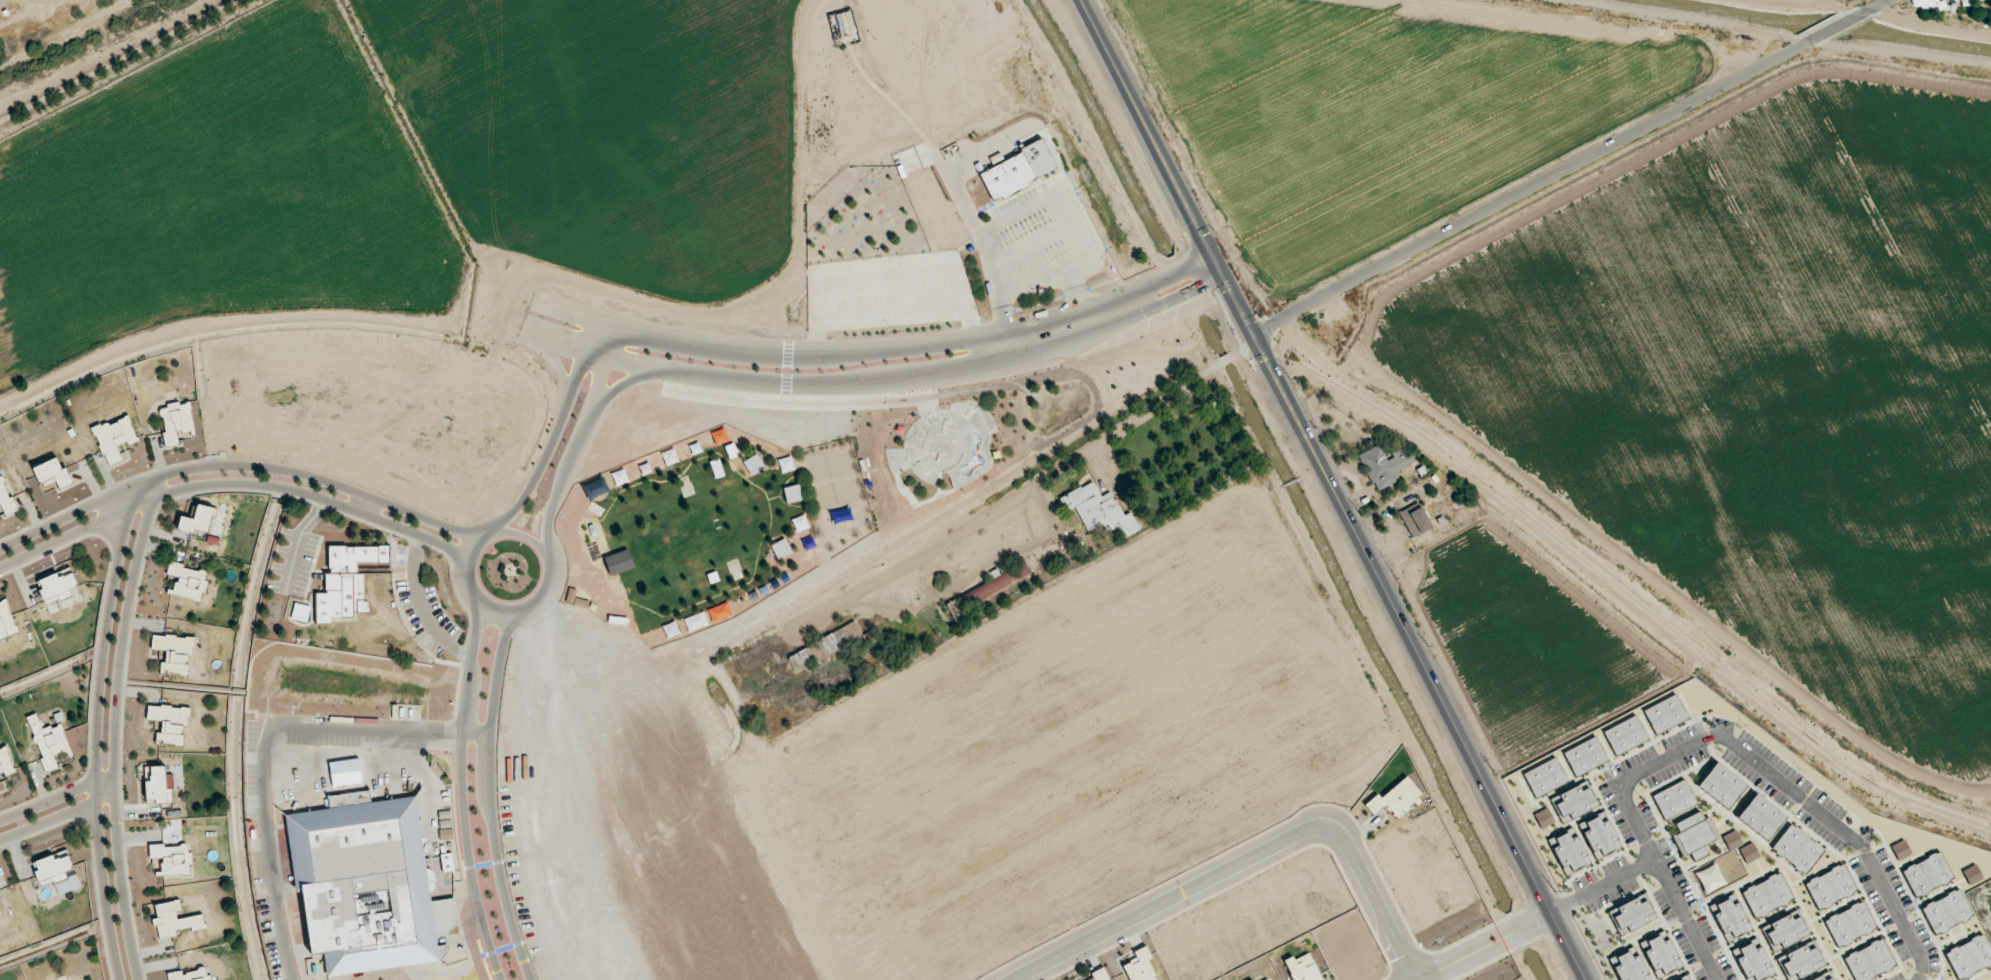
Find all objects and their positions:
building: (1955, 0)
building: (1965, 3)
building: (1930, 5)
road: (1877, 8)
road: (1831, 32)
building: (1016, 171)
road: (1526, 191)
road: (1025, 206)
traffic signals: (1211, 253)
traffic signals: (1222, 274)
road: (1036, 282)
traffic signals: (1254, 336)
road: (1244, 348)
road: (815, 356)
road: (1222, 363)
road: (842, 383)
road: (1149, 411)
building: (176, 422)
building: (114, 439)
road: (239, 463)
building: (1384, 466)
building: (52, 473)
road: (232, 482)
road: (1333, 490)
building: (5, 499)
building: (1099, 511)
building: (1415, 520)
building: (197, 521)
building: (800, 523)
road: (485, 528)
building: (618, 563)
building: (346, 581)
building: (187, 582)
building: (57, 584)
building: (996, 585)
building: (575, 599)
building: (6, 622)
building: (824, 646)
building: (173, 653)
building: (1665, 714)
road: (96, 724)
building: (168, 724)
road: (115, 728)
building: (1625, 735)
road: (1728, 740)
building: (48, 743)
road: (265, 750)
building: (1585, 756)
building: (5, 763)
building: (1545, 777)
building: (1721, 785)
building: (156, 786)
road: (461, 792)
road: (489, 796)
road: (57, 797)
building: (1396, 798)
building: (1674, 800)
building: (1573, 803)
road: (57, 816)
building: (1761, 816)
building: (1544, 818)
building: (1695, 835)
building: (1600, 838)
building: (1732, 840)
building: (1797, 848)
building: (1901, 850)
building: (1570, 853)
building: (1749, 853)
building: (171, 859)
road: (1243, 861)
building: (53, 867)
building: (1927, 874)
building: (1972, 875)
building: (1710, 878)
building: (366, 883)
building: (1830, 886)
building: (1767, 895)
building: (1947, 911)
building: (1631, 916)
building: (0, 917)
building: (1730, 918)
road: (1685, 920)
building: (174, 921)
building: (1850, 924)
building: (1785, 932)
road: (1480, 945)
building: (1660, 956)
building: (1970, 956)
building: (1870, 961)
building: (1753, 962)
building: (1800, 962)
building: (1140, 966)
building: (1629, 967)
building: (1302, 968)
building: (189, 975)
building: (1099, 975)
building: (1818, 978)
building: (1267, 979)
building: (1680, 979)
building: (1830, 979)

